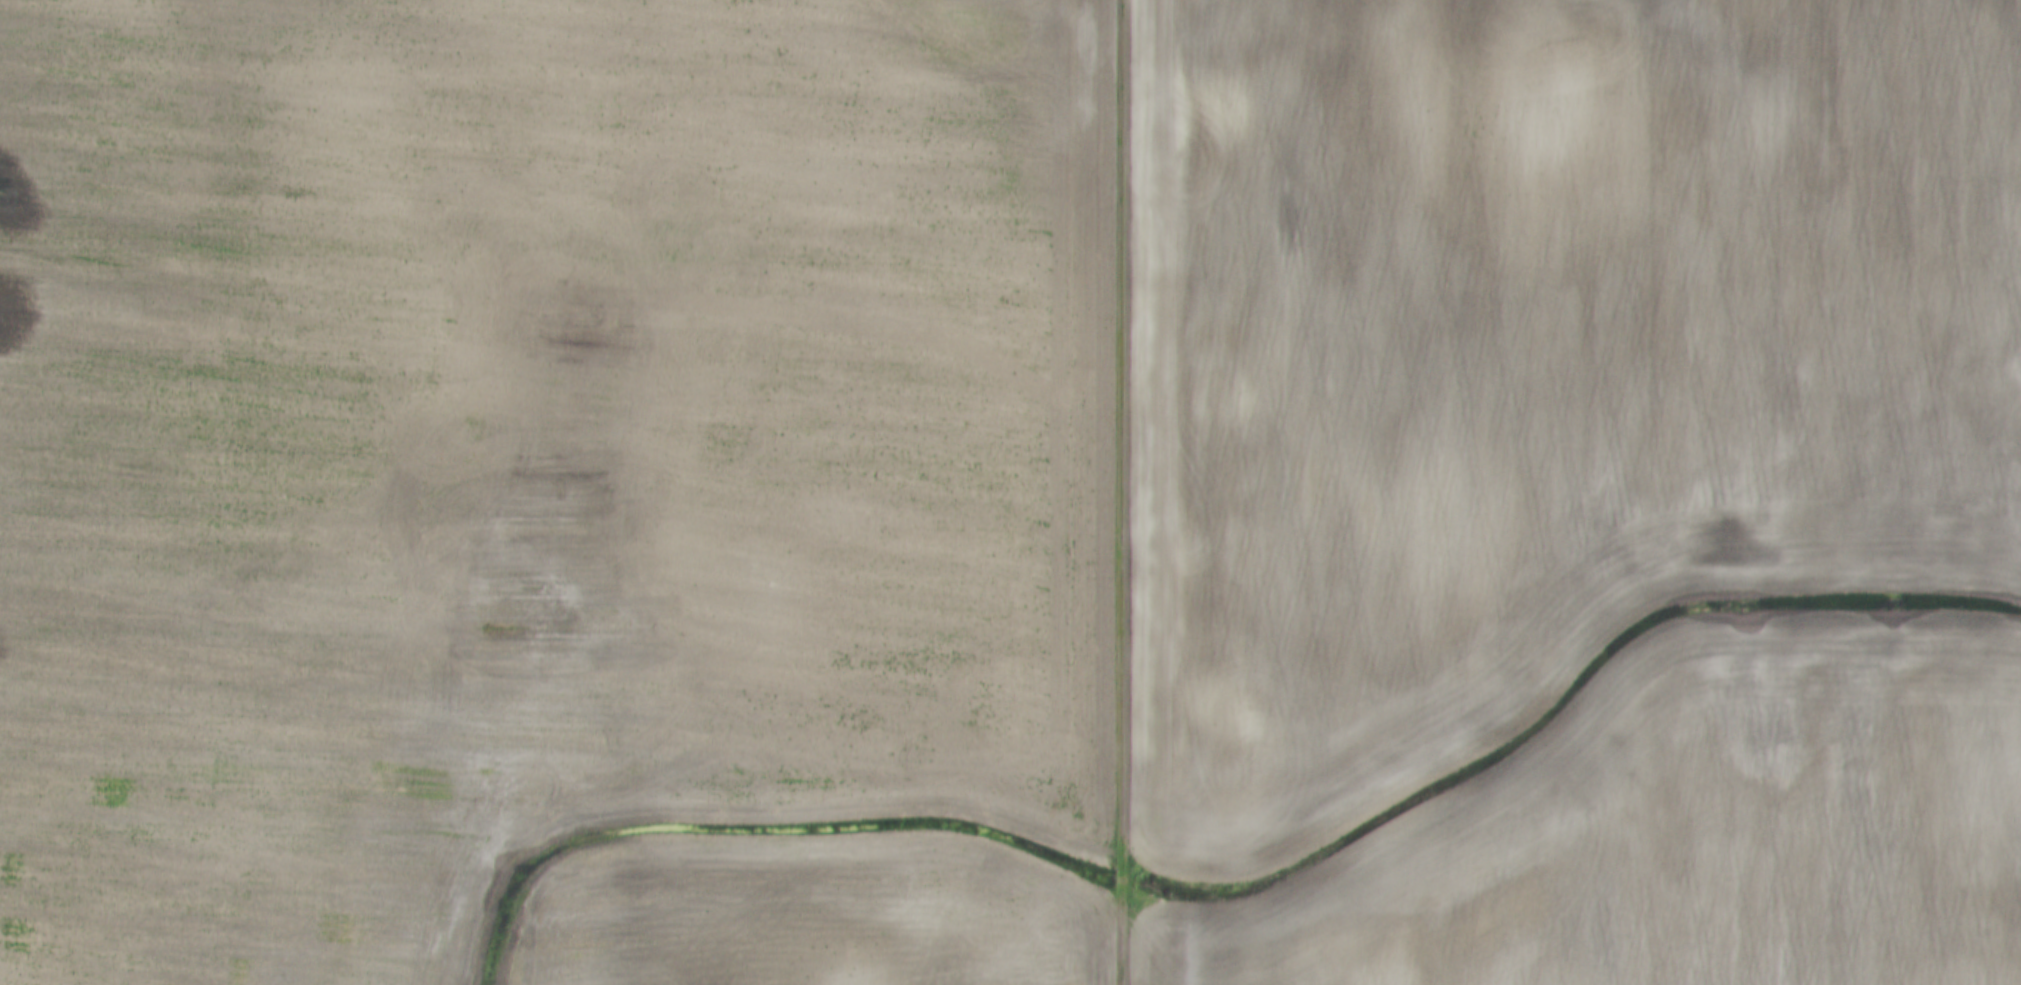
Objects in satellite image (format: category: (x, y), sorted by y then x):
road: (1131, 492)

